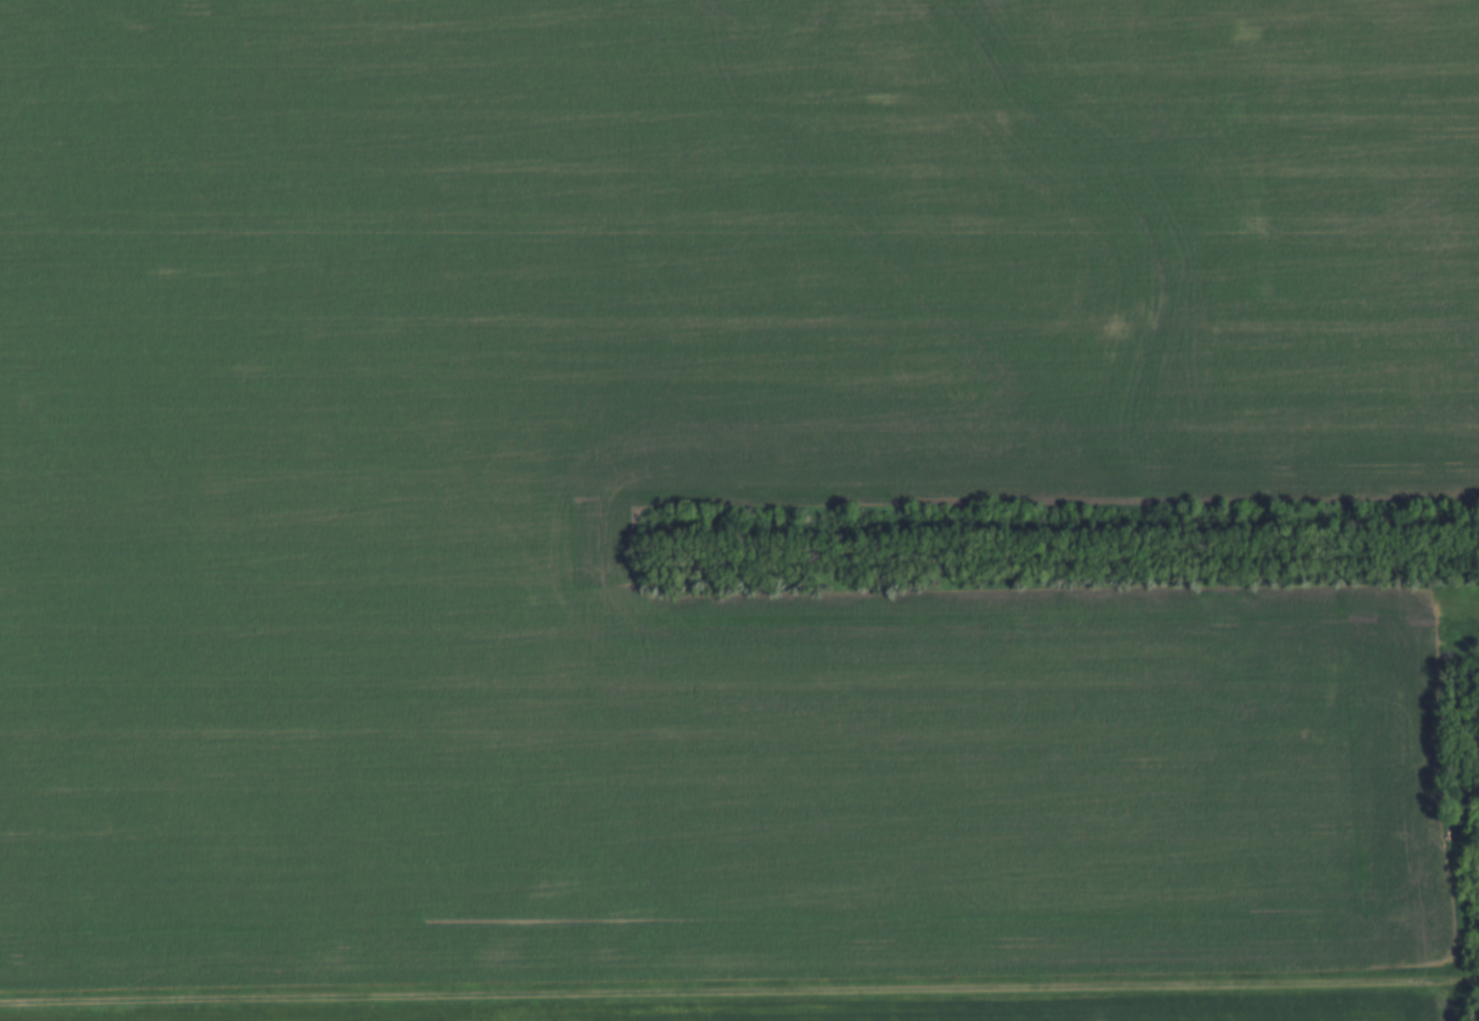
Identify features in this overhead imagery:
road: (739, 995)

